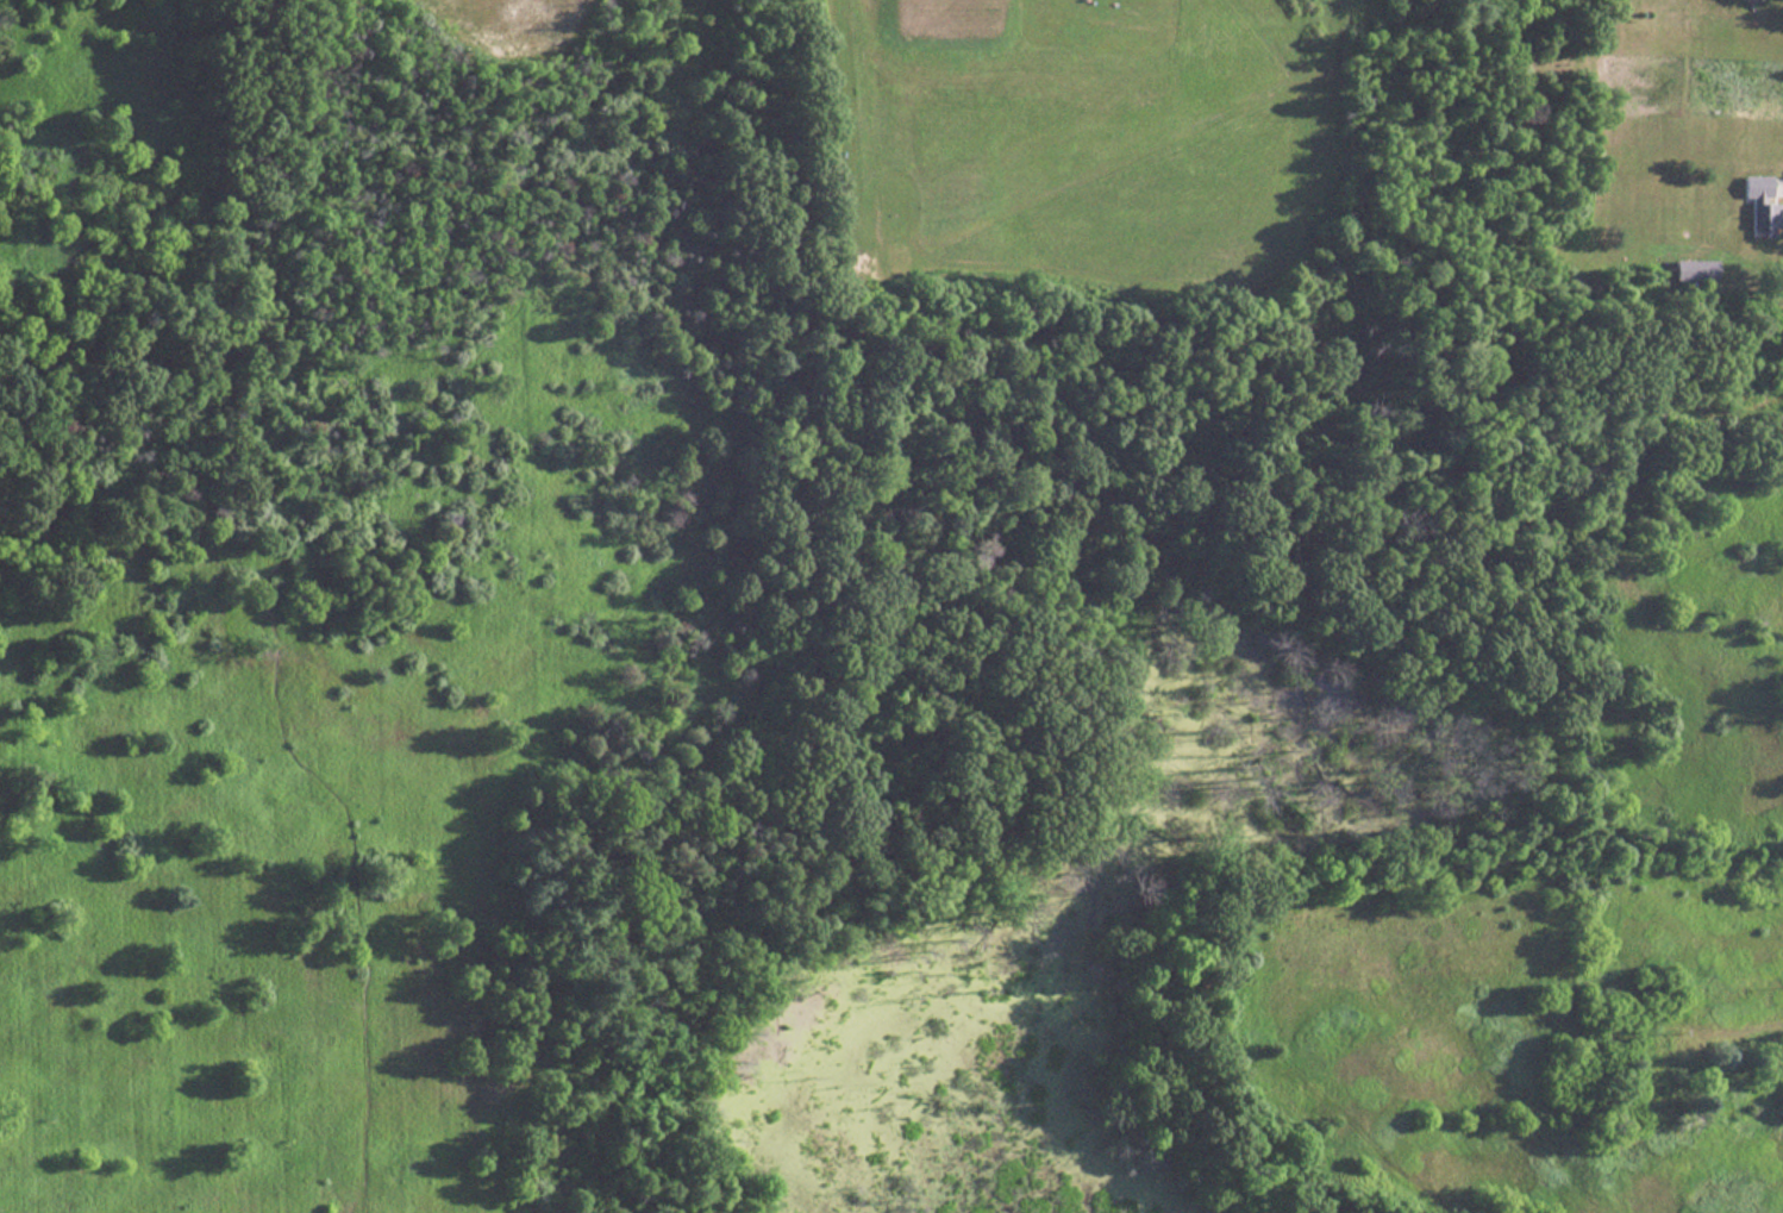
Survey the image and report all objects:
building: (1753, 186)
building: (1764, 219)
building: (1700, 270)
park: (821, 681)

